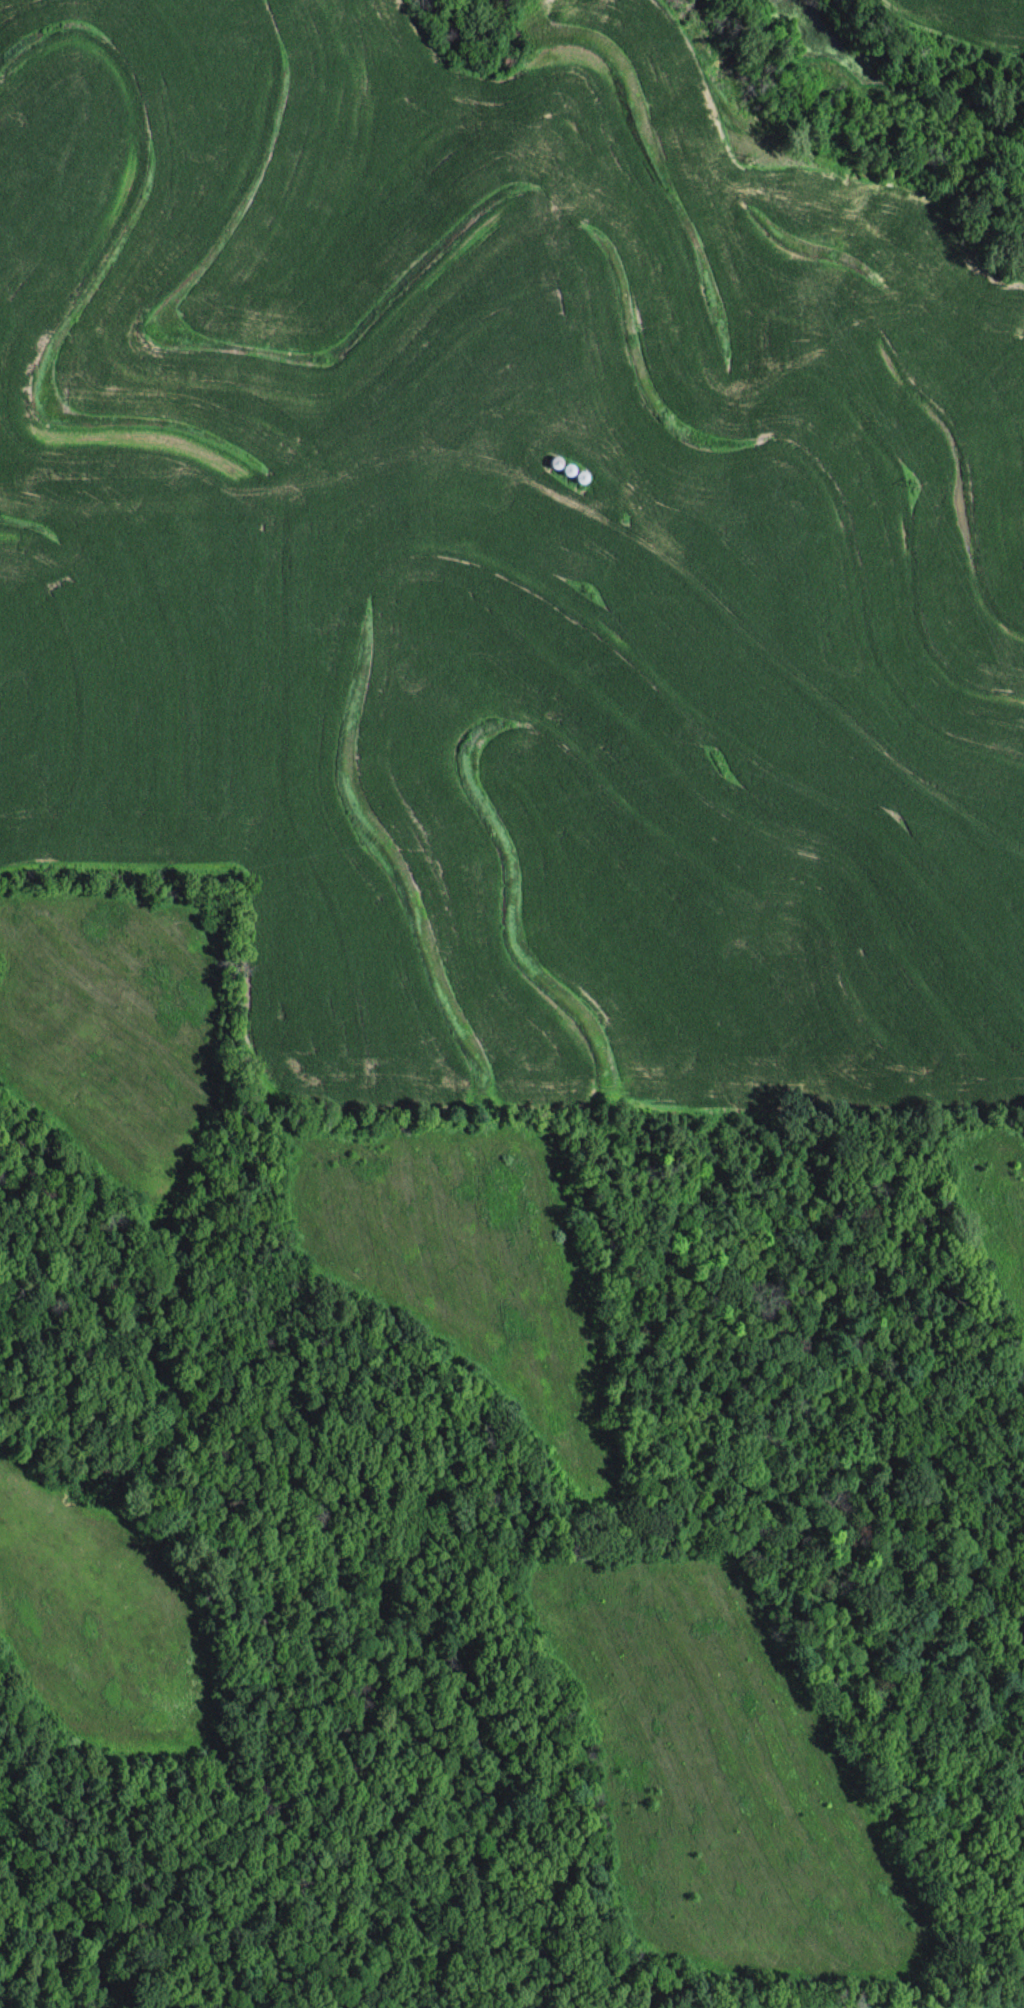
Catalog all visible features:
power tower: (746, 149)
power tower: (912, 479)

